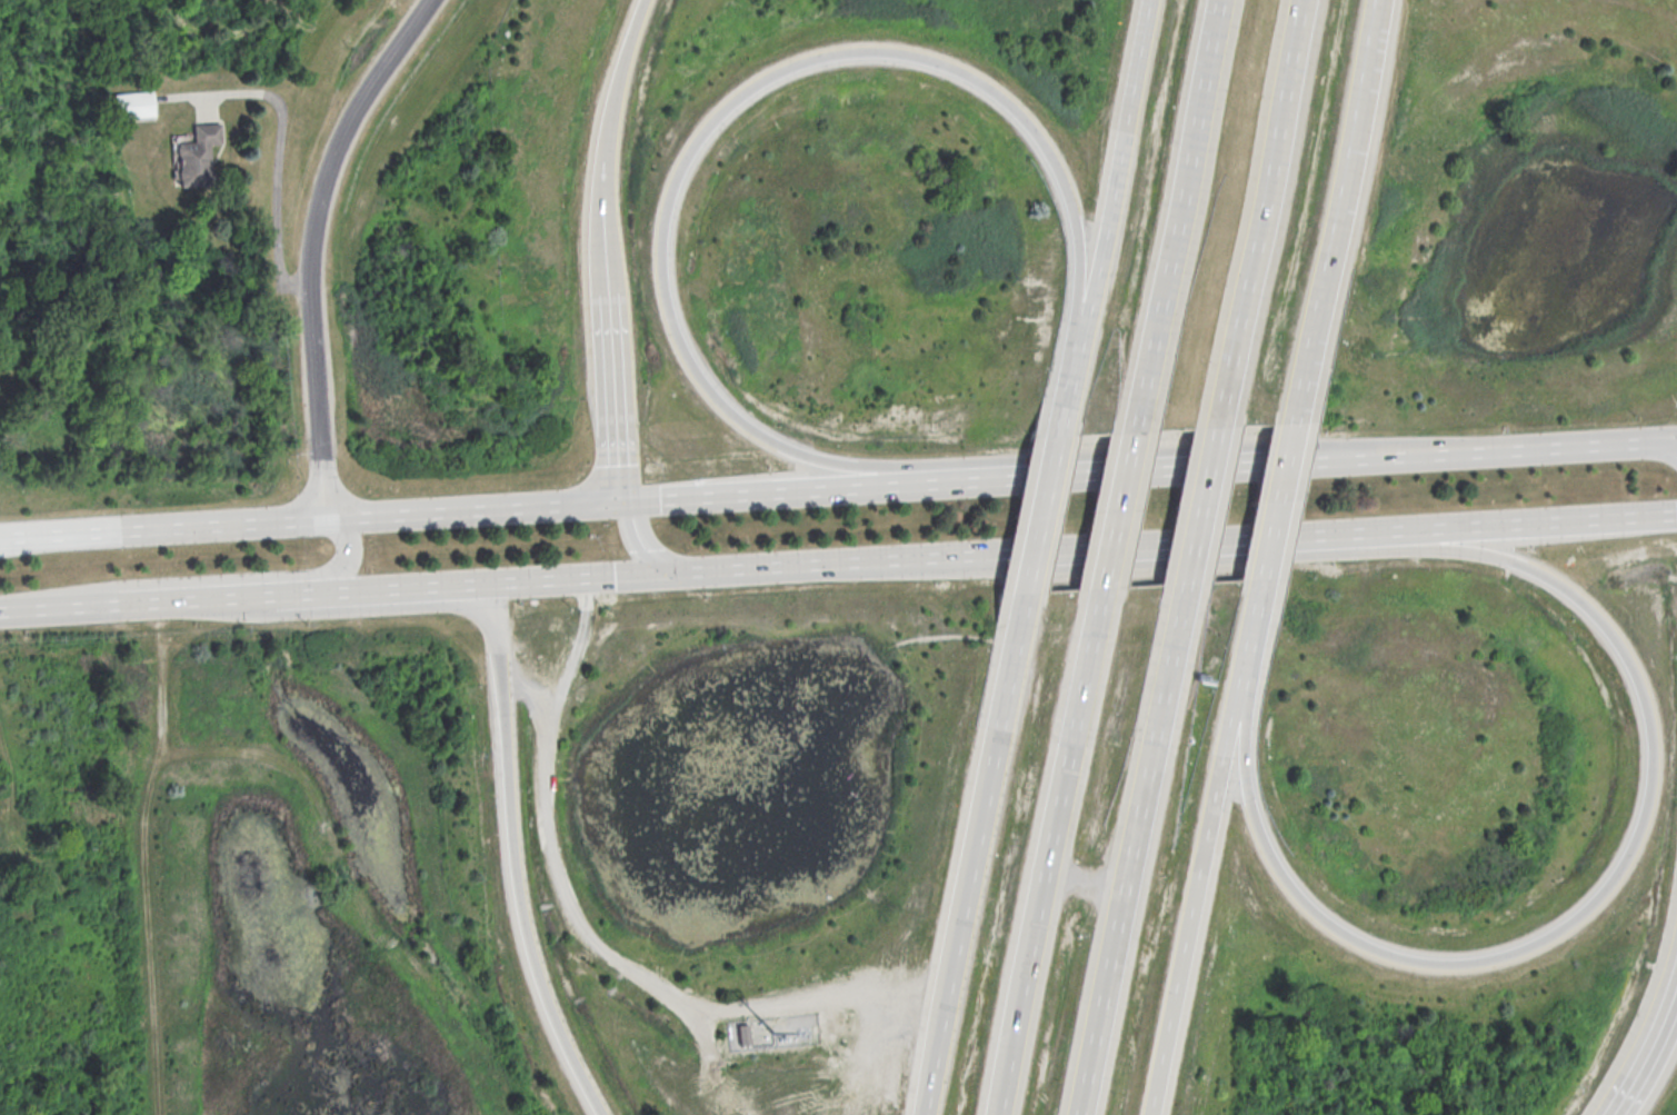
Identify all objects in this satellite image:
road: (619, 99)
building: (134, 104)
road: (209, 110)
road: (281, 141)
building: (199, 156)
road: (1337, 185)
road: (1102, 212)
road: (1178, 217)
road: (665, 219)
road: (1258, 219)
road: (316, 242)
road: (609, 249)
road: (616, 398)
road: (1296, 404)
road: (1516, 447)
road: (1321, 458)
road: (954, 479)
traffic signals: (620, 499)
road: (1042, 509)
road: (310, 516)
road: (1116, 517)
road: (1200, 518)
road: (1272, 520)
road: (1340, 535)
road: (639, 539)
road: (985, 556)
road: (730, 570)
traffic signals: (667, 575)
road: (199, 579)
road: (408, 589)
road: (290, 596)
road: (196, 601)
road: (66, 609)
road: (577, 647)
road: (1009, 679)
road: (1656, 750)
road: (13, 793)
road: (517, 856)
road: (1046, 857)
road: (1132, 857)
road: (1201, 859)
road: (1085, 882)
road: (956, 940)
road: (597, 943)
building: (743, 1031)
road: (706, 1035)
road: (1649, 1052)

